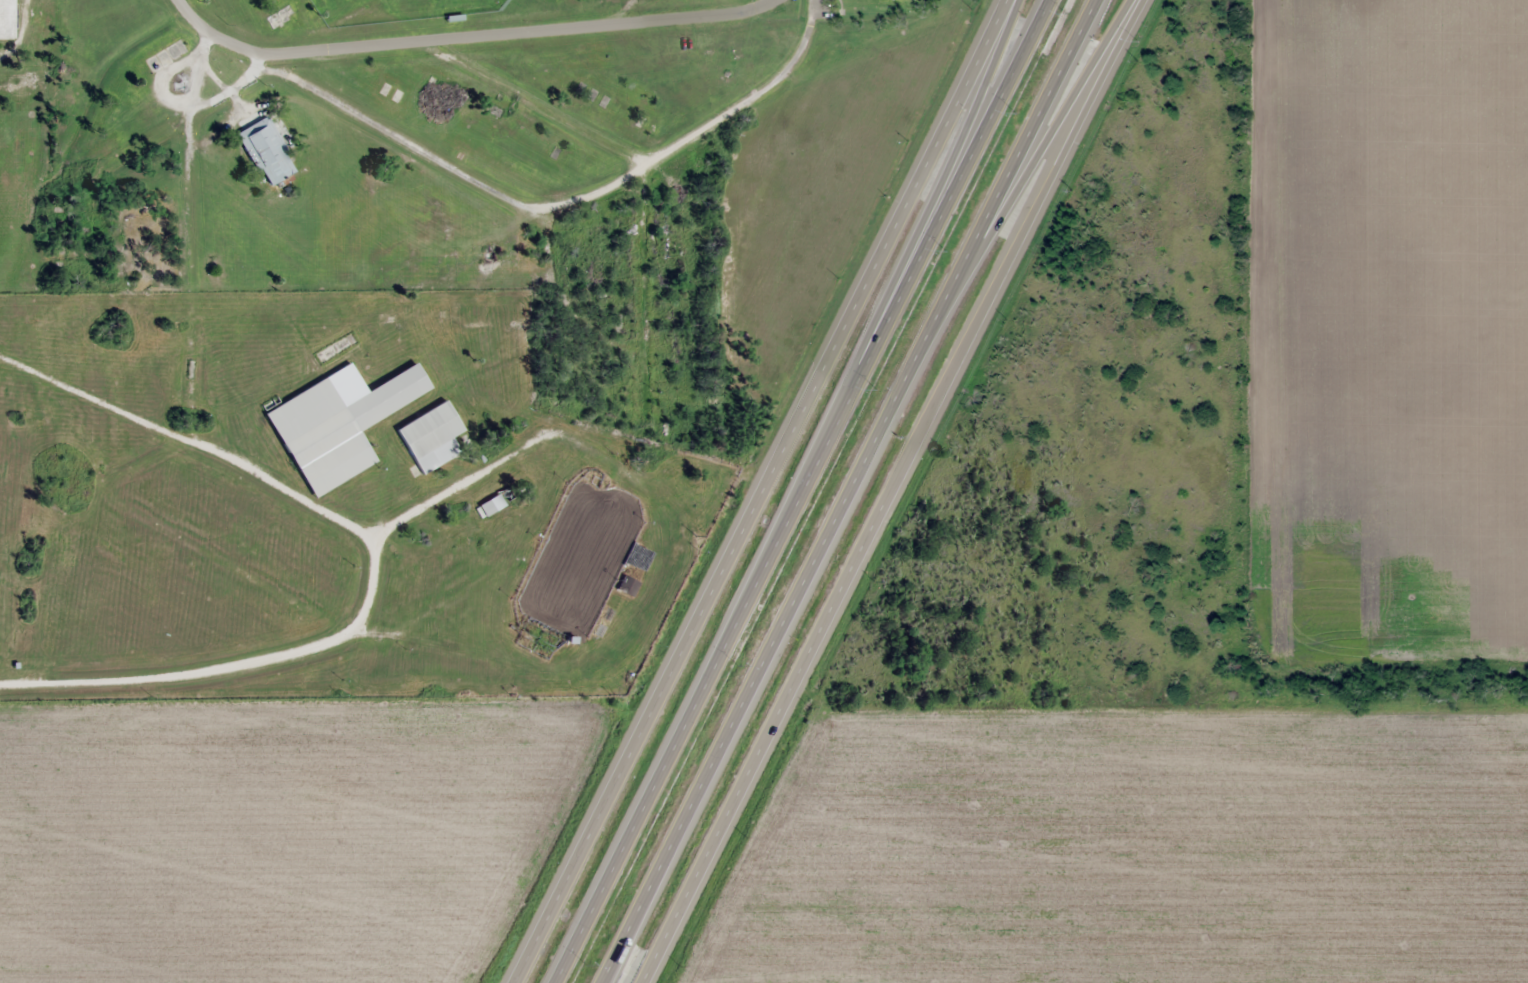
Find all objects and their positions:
road: (192, 16)
road: (593, 24)
road: (233, 43)
road: (339, 46)
road: (173, 114)
building: (265, 150)
road: (1034, 161)
road: (640, 169)
road: (933, 177)
road: (956, 178)
road: (558, 208)
road: (188, 235)
road: (853, 302)
road: (546, 323)
road: (941, 384)
building: (336, 426)
building: (430, 436)
road: (851, 491)
building: (496, 500)
road: (324, 512)
building: (636, 556)
building: (626, 585)
road: (362, 587)
road: (275, 655)
road: (710, 670)
road: (610, 793)
road: (694, 875)

